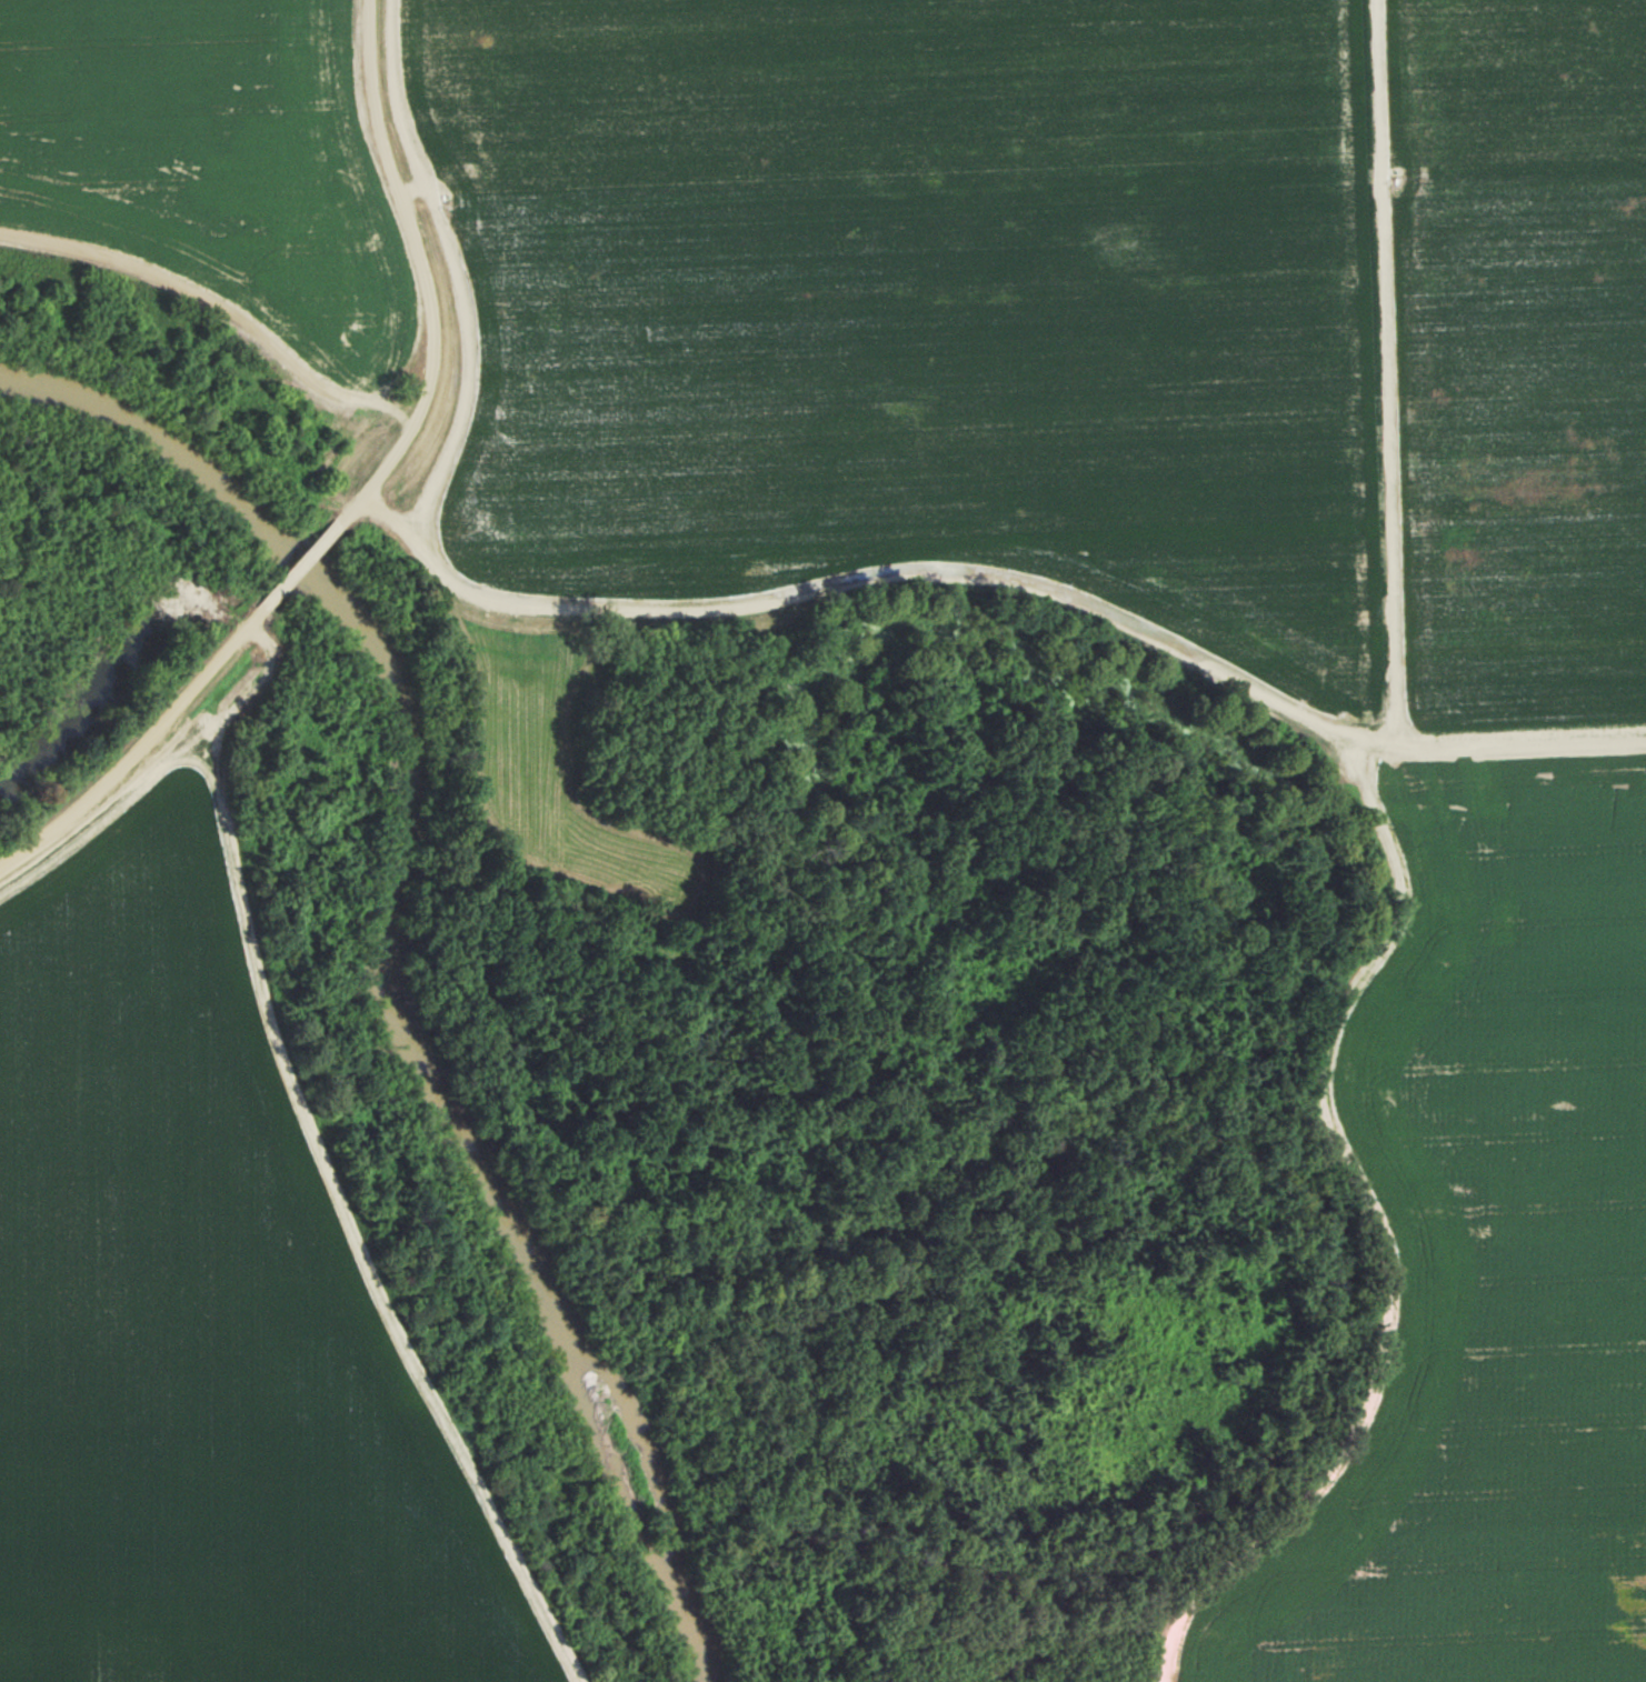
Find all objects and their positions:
road: (423, 273)
road: (297, 568)
road: (137, 752)

